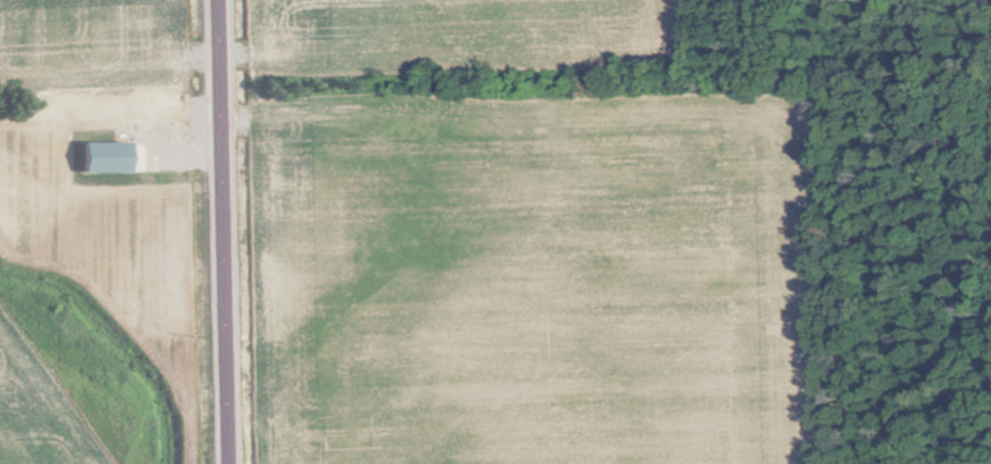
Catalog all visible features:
road: (224, 232)

